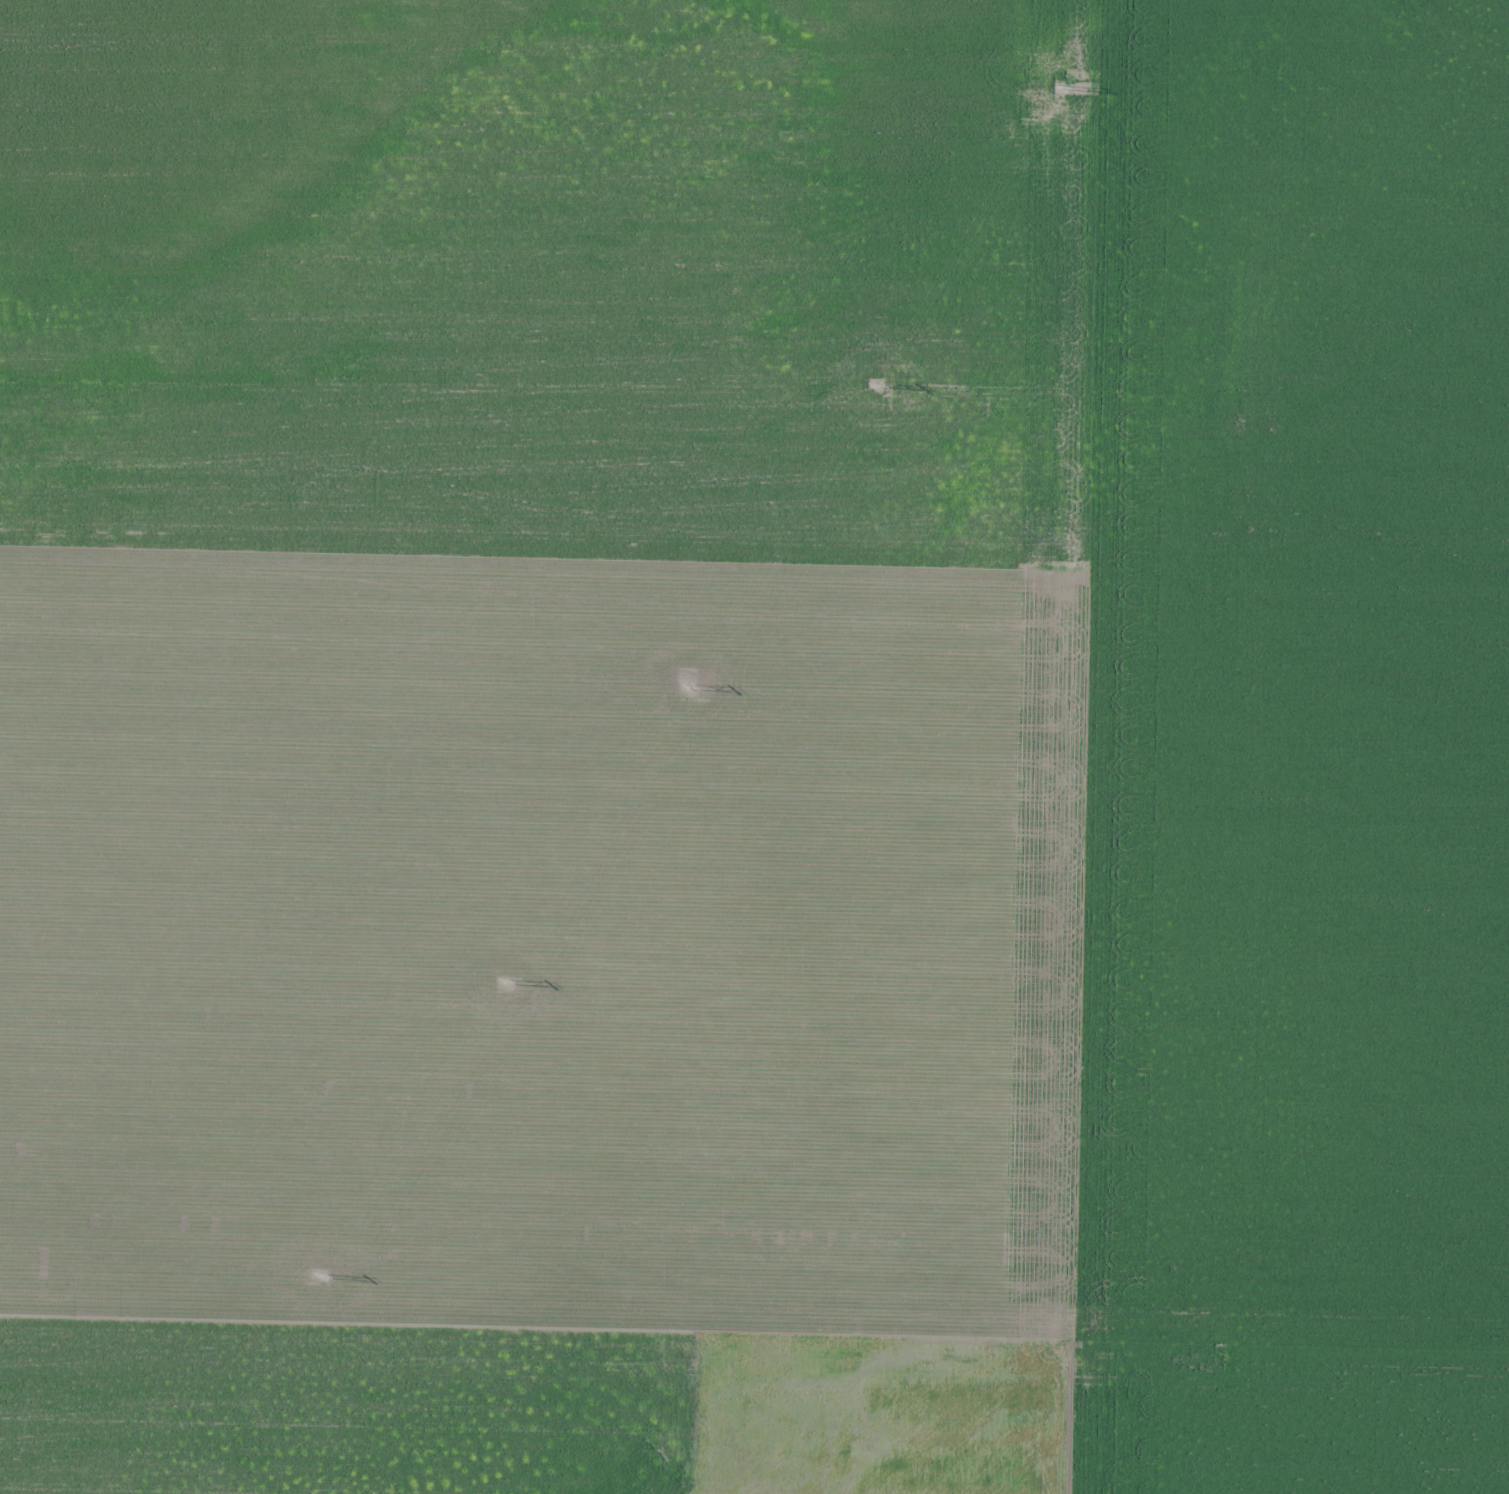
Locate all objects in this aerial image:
power tower: (1055, 84)
power tower: (876, 385)
power tower: (687, 686)
power tower: (507, 981)
power tower: (322, 1276)

